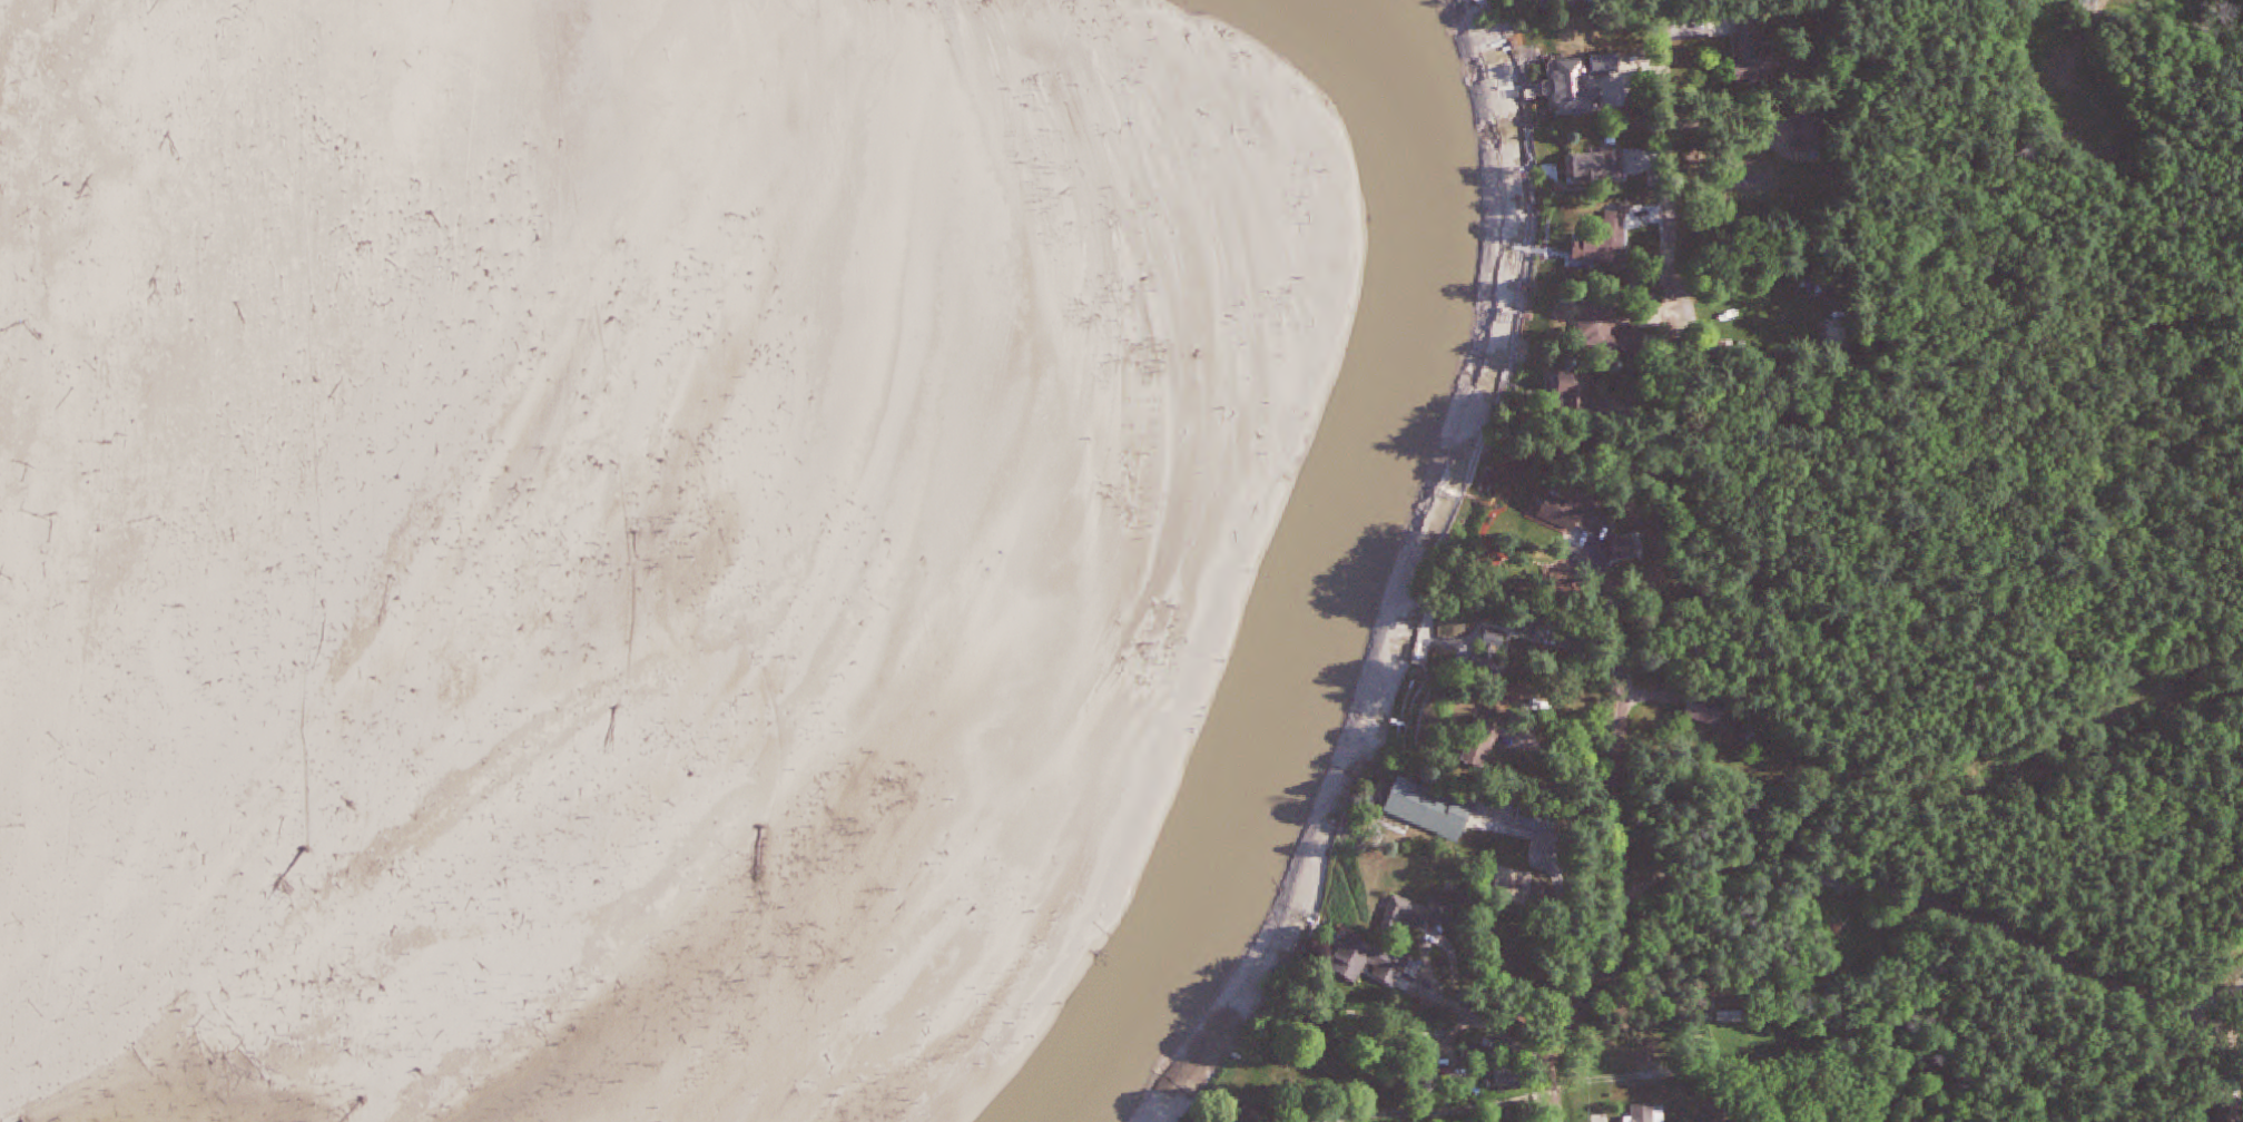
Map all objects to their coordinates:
building: (1758, 51)
building: (1591, 85)
building: (1812, 137)
road: (1662, 163)
building: (1598, 167)
building: (1609, 253)
building: (1603, 326)
building: (1841, 334)
building: (1581, 388)
building: (1574, 513)
river: (1330, 577)
building: (1497, 650)
building: (1714, 710)
road: (1560, 755)
road: (1620, 805)
building: (1434, 810)
building: (1539, 820)
road: (1941, 903)
building: (1419, 915)
building: (1374, 961)
road: (1478, 1042)
building: (1653, 1045)
road: (1439, 1110)
road: (1553, 1112)
building: (1649, 1113)
building: (1260, 1116)

